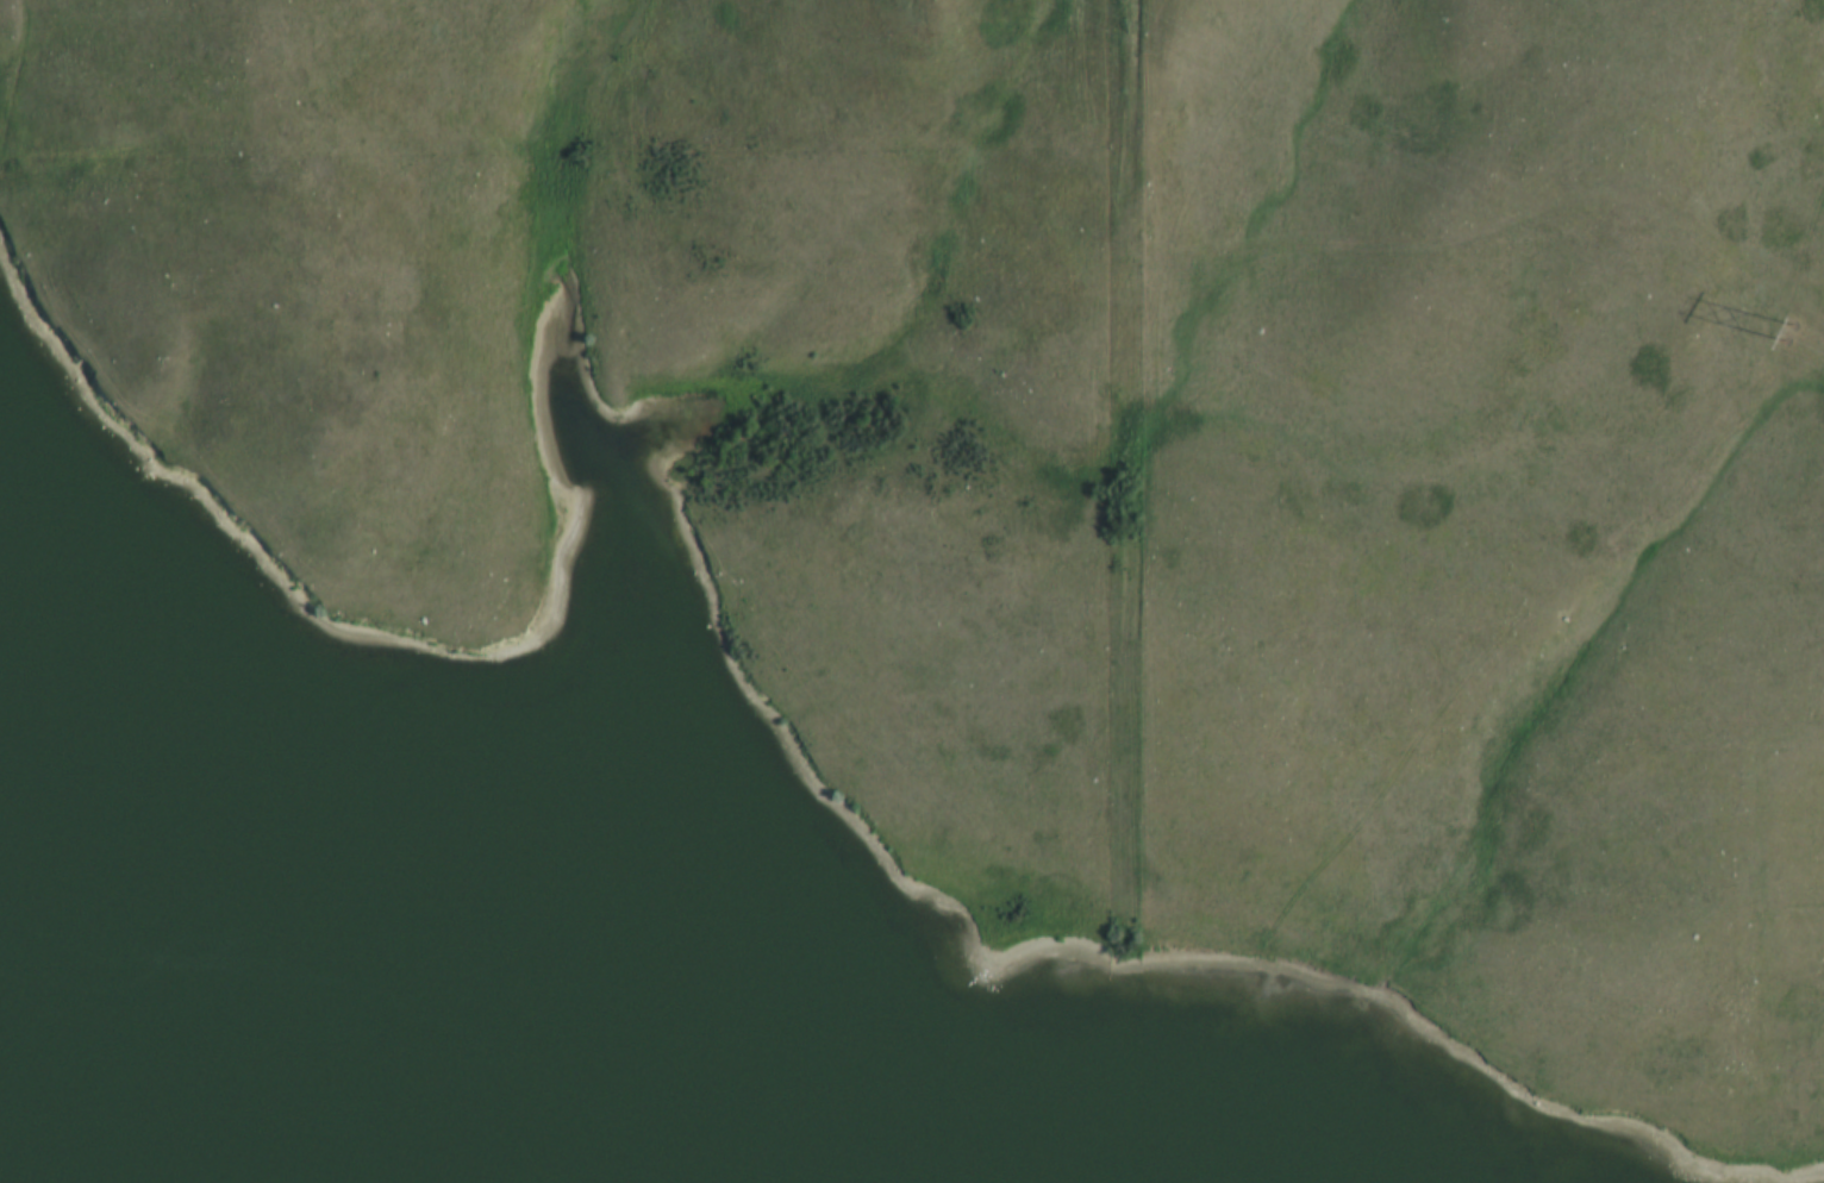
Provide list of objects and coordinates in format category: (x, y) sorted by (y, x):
power tower: (1791, 338)

